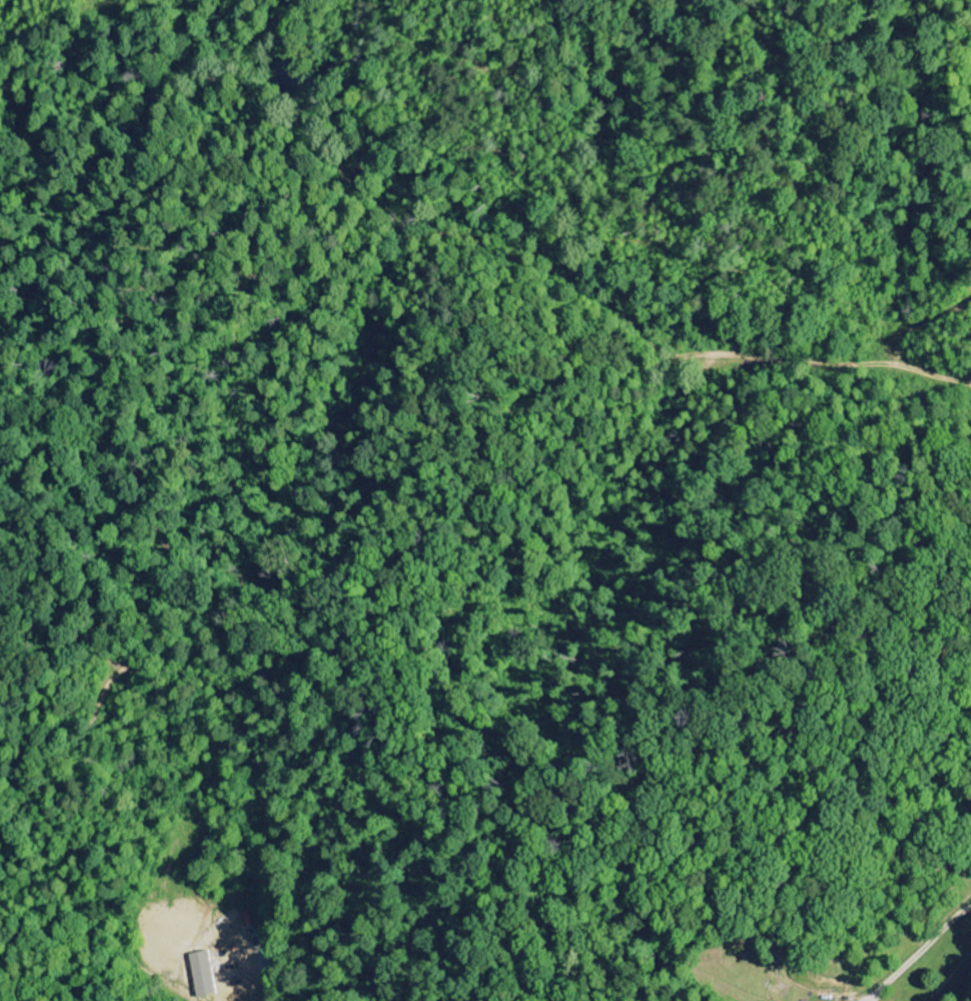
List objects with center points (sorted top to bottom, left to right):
building: (200, 974)
road: (959, 980)

